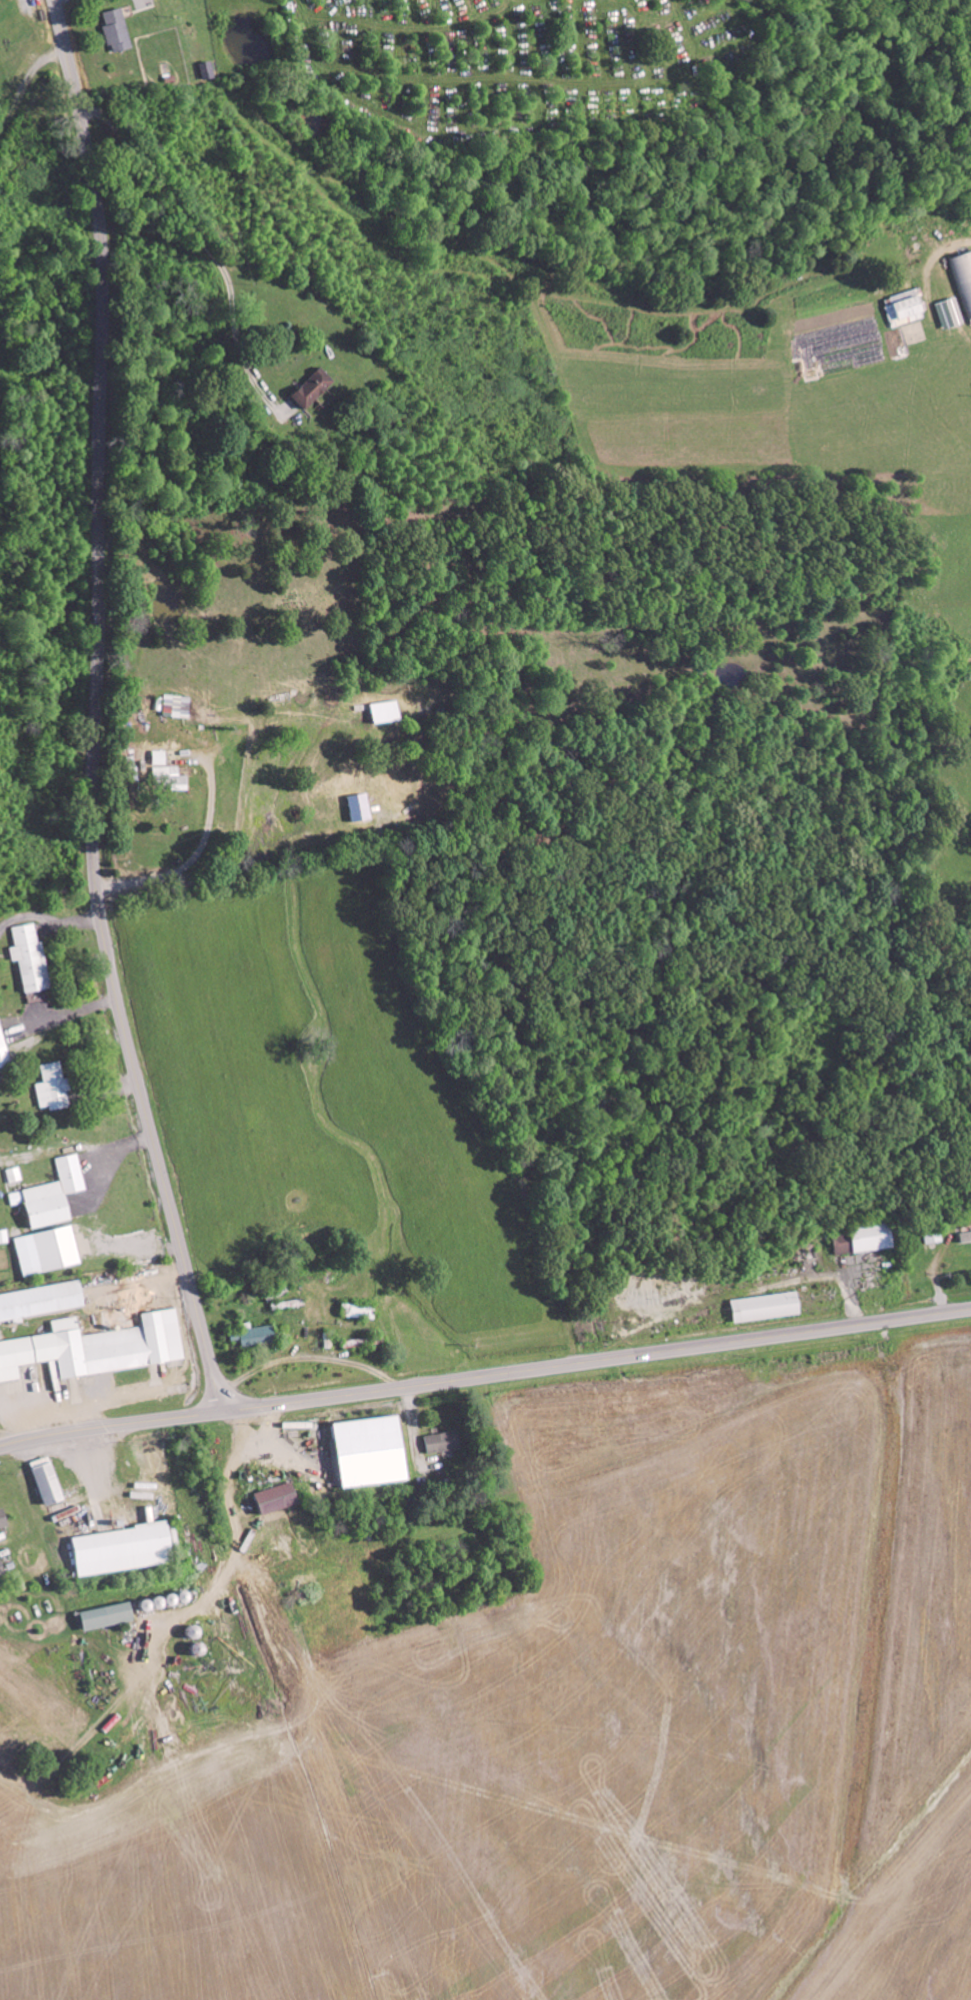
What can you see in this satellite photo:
building: (119, 31)
building: (0, 53)
building: (208, 71)
road: (27, 86)
road: (512, 170)
building: (962, 280)
building: (944, 313)
building: (314, 389)
building: (179, 707)
road: (97, 711)
building: (387, 713)
building: (170, 773)
building: (363, 809)
building: (32, 960)
building: (4, 1049)
building: (56, 1089)
building: (15, 1175)
building: (54, 1195)
building: (4, 1237)
building: (963, 1237)
building: (50, 1251)
building: (42, 1301)
building: (770, 1307)
building: (256, 1336)
building: (99, 1348)
road: (485, 1377)
building: (443, 1442)
building: (376, 1451)
building: (50, 1481)
building: (280, 1498)
building: (4, 1519)
building: (125, 1549)
building: (2, 1568)
building: (110, 1616)

